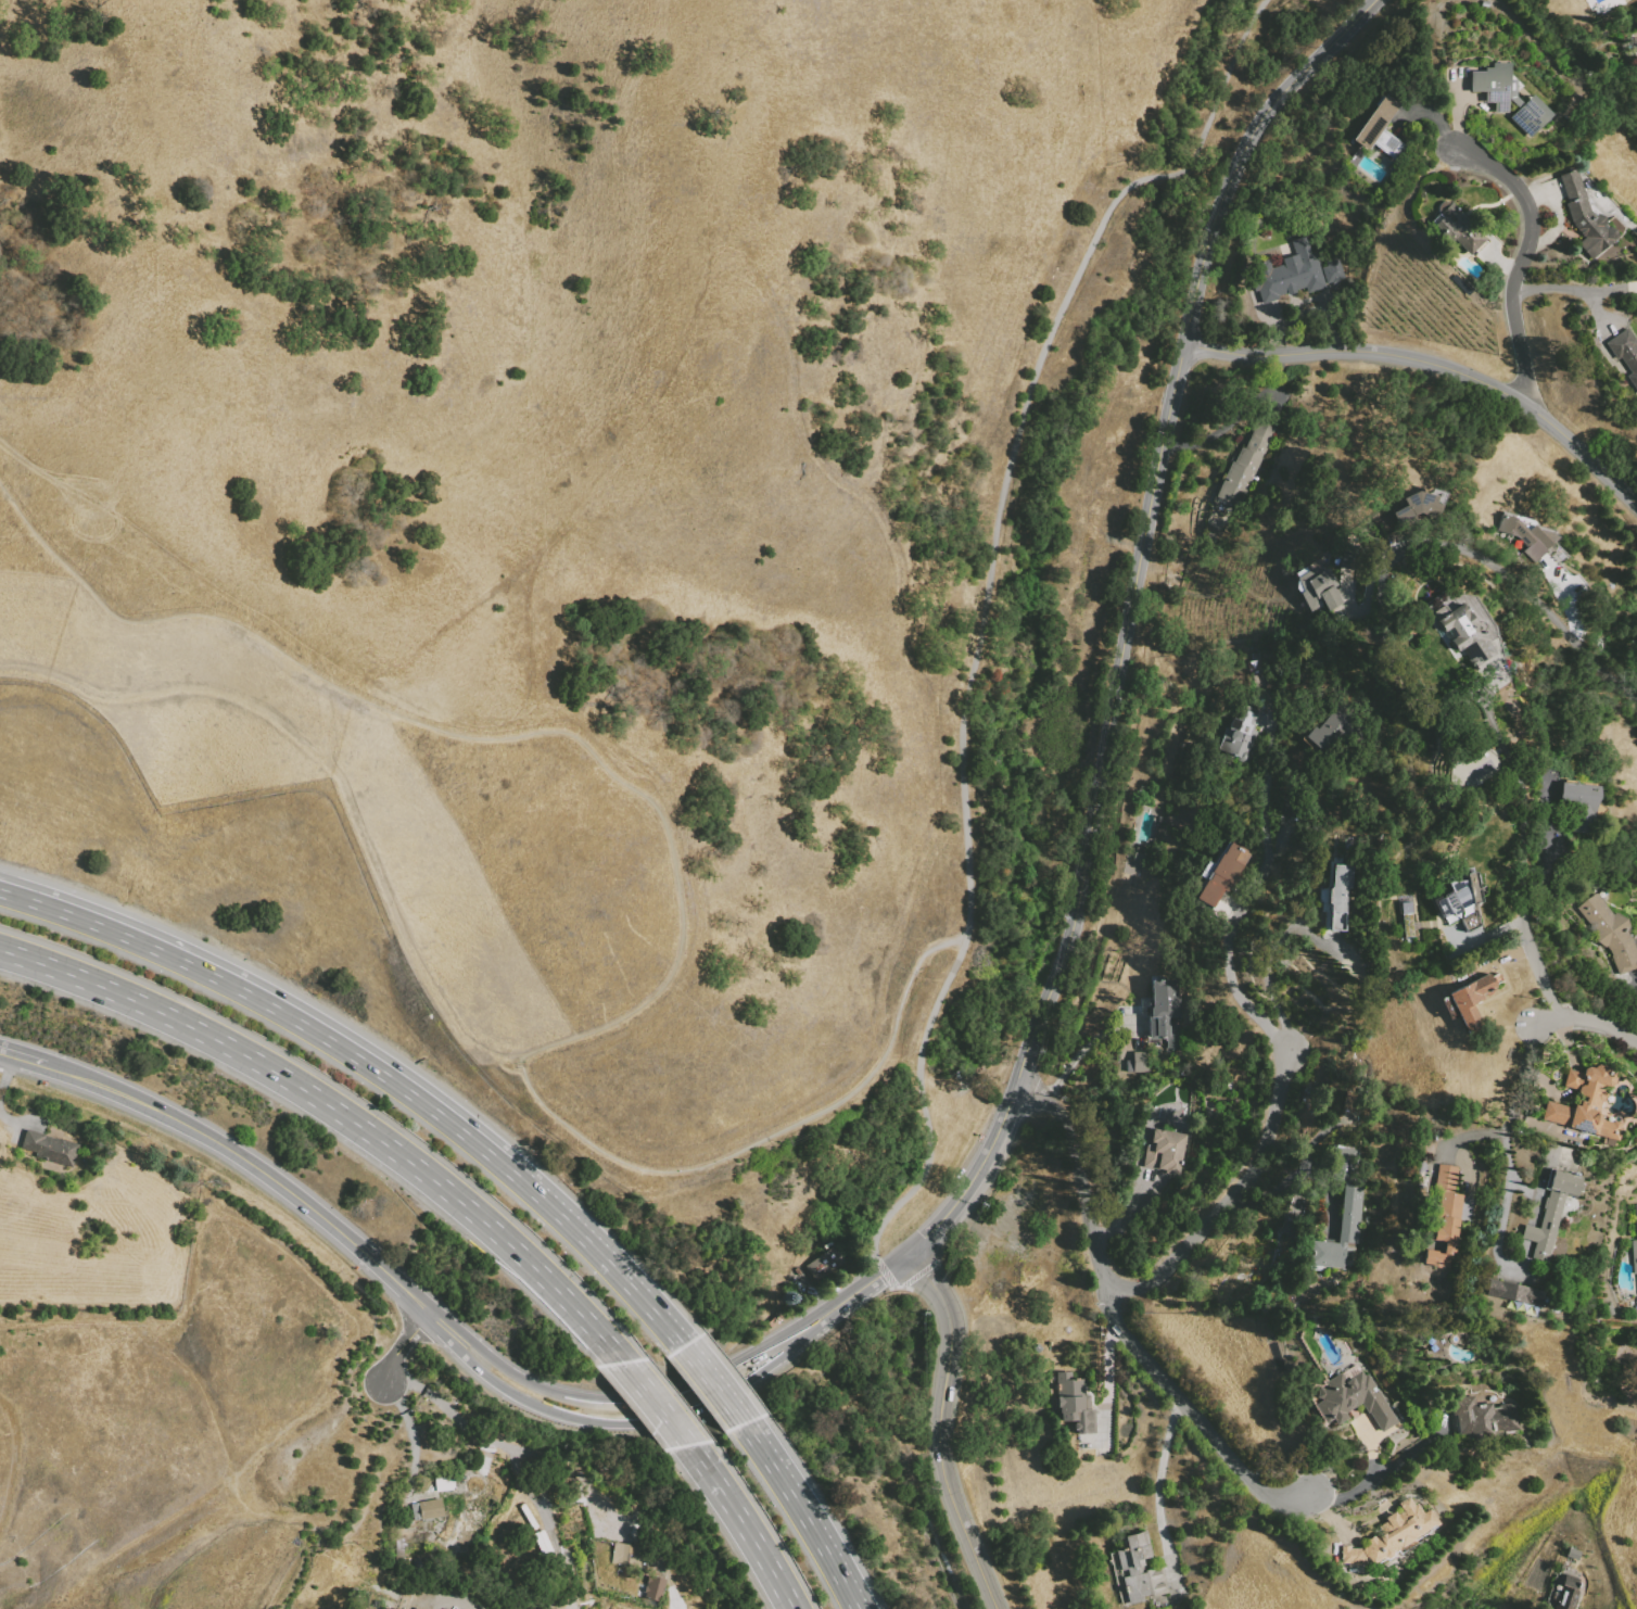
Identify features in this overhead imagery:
road: (1265, 20)
building: (1508, 97)
building: (1380, 129)
road: (1198, 193)
building: (1586, 216)
building: (1457, 228)
road: (1522, 259)
building: (1289, 274)
road: (1575, 289)
road: (1595, 312)
building: (1625, 353)
road: (1432, 364)
building: (1244, 467)
building: (1410, 514)
building: (1527, 535)
parking lot: (1094, 541)
building: (1319, 590)
road: (1524, 592)
road: (985, 597)
road: (1132, 616)
building: (1468, 625)
building: (1327, 730)
building: (1241, 734)
road: (1267, 788)
building: (1579, 803)
building: (1221, 875)
building: (1472, 885)
road: (677, 892)
building: (1338, 896)
building: (1454, 898)
road: (1523, 901)
road: (1239, 915)
building: (1407, 920)
building: (1470, 922)
building: (1610, 932)
road: (1268, 961)
building: (1471, 998)
road: (267, 1005)
building: (1163, 1008)
road: (1586, 1019)
road: (1083, 1047)
road: (22, 1056)
building: (1138, 1062)
road: (1524, 1079)
building: (1586, 1103)
road: (342, 1114)
road: (1507, 1141)
building: (49, 1149)
building: (1165, 1151)
road: (266, 1174)
road: (1076, 1181)
road: (1228, 1200)
building: (1341, 1213)
building: (1551, 1213)
building: (1636, 1216)
building: (1445, 1217)
road: (1500, 1226)
building: (1634, 1255)
road: (600, 1256)
building: (825, 1263)
road: (885, 1272)
road: (917, 1274)
road: (865, 1284)
building: (1514, 1293)
road: (403, 1344)
road: (715, 1386)
building: (1354, 1401)
road: (638, 1402)
building: (1070, 1403)
road: (661, 1406)
road: (1196, 1416)
building: (1483, 1416)
road: (638, 1419)
road: (938, 1429)
road: (493, 1442)
road: (922, 1442)
road: (410, 1449)
road: (1382, 1469)
road: (1157, 1481)
building: (445, 1482)
building: (427, 1509)
road: (803, 1515)
road: (746, 1526)
building: (1399, 1532)
building: (621, 1555)
building: (1350, 1556)
building: (1571, 1556)
building: (1140, 1569)
building: (653, 1588)
building: (1570, 1591)
building: (444, 1608)

